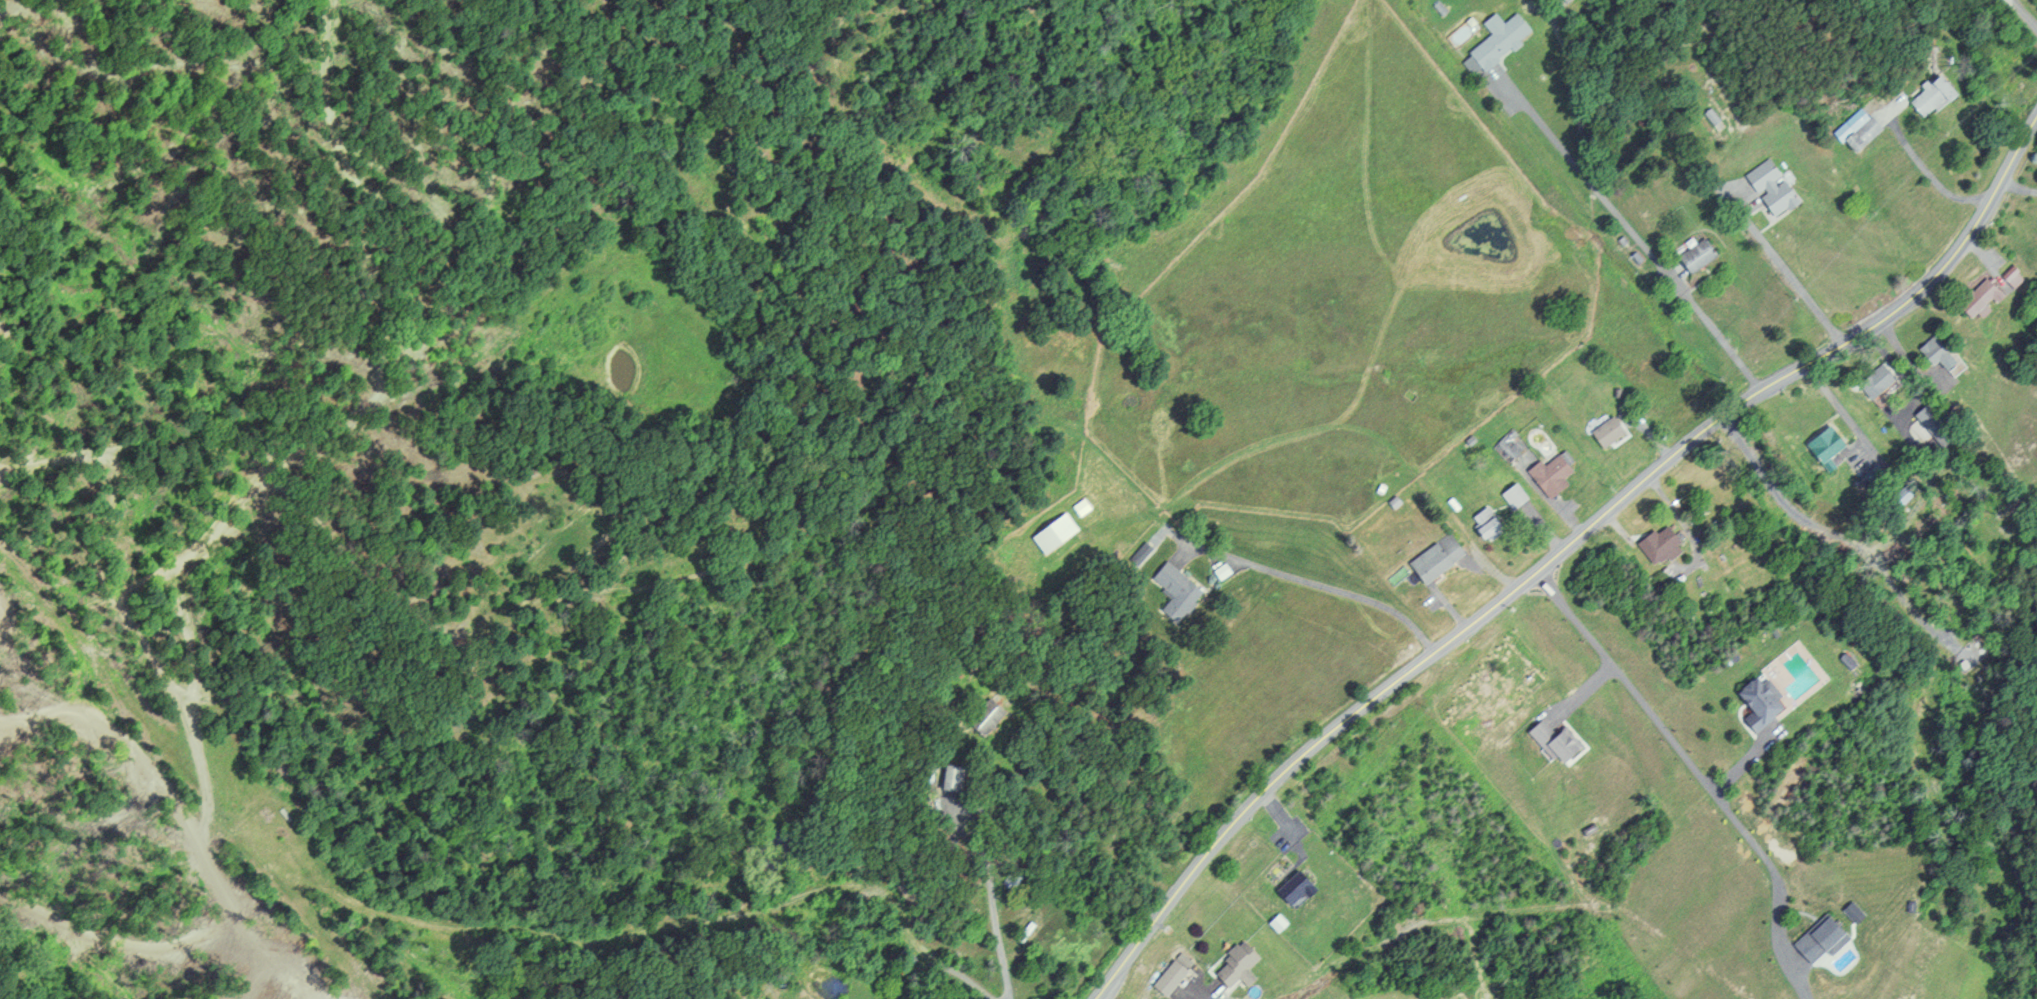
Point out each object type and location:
road: (2023, 13)
building: (1502, 40)
building: (1939, 95)
building: (1876, 125)
building: (1775, 187)
road: (1631, 232)
building: (1701, 255)
building: (2016, 275)
building: (1984, 297)
building: (1940, 350)
building: (1880, 380)
building: (1939, 424)
building: (1611, 431)
building: (1832, 442)
building: (1555, 474)
building: (1517, 495)
building: (1491, 523)
building: (1058, 533)
building: (1663, 545)
road: (1561, 550)
building: (1440, 557)
building: (1179, 590)
road: (1341, 591)
building: (1852, 662)
road: (1587, 687)
building: (989, 715)
building: (1561, 741)
road: (1697, 774)
building: (956, 777)
road: (1277, 807)
building: (1299, 887)
road: (991, 905)
building: (1856, 912)
building: (1826, 938)
building: (1243, 965)
building: (1172, 977)
road: (1212, 993)

